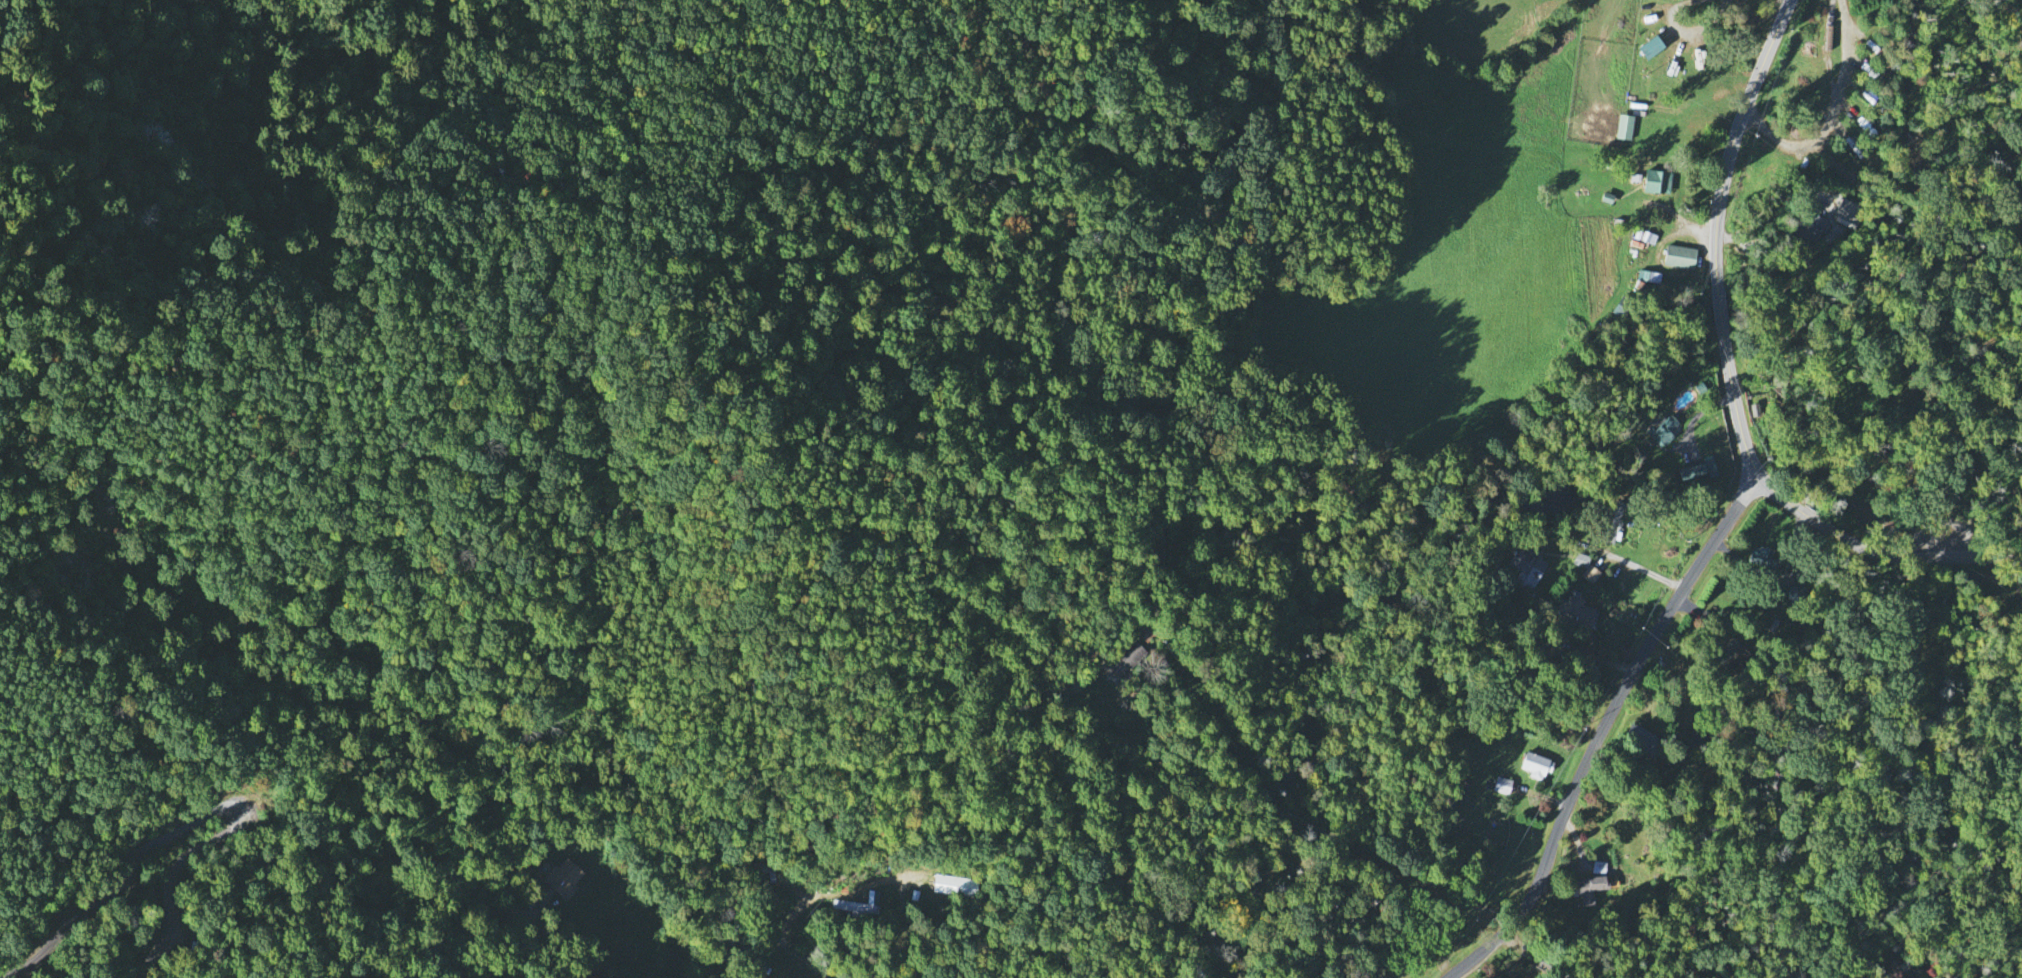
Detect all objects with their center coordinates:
road: (1690, 28)
building: (1650, 45)
road: (1828, 49)
road: (1700, 102)
road: (1831, 115)
building: (1625, 125)
building: (1657, 180)
road: (1760, 201)
building: (1847, 212)
building: (1811, 225)
building: (1680, 254)
road: (1729, 378)
building: (1664, 429)
building: (1699, 467)
dam: (1514, 486)
dam: (1506, 504)
building: (1611, 531)
building: (1581, 557)
road: (1636, 564)
building: (1591, 572)
building: (1796, 592)
building: (1578, 610)
building: (1127, 657)
road: (1602, 732)
building: (1535, 763)
road: (1292, 815)
road: (197, 819)
building: (1599, 865)
road: (1409, 871)
building: (559, 879)
road: (1107, 879)
building: (955, 883)
building: (1589, 886)
road: (843, 892)
building: (858, 904)
road: (569, 948)

